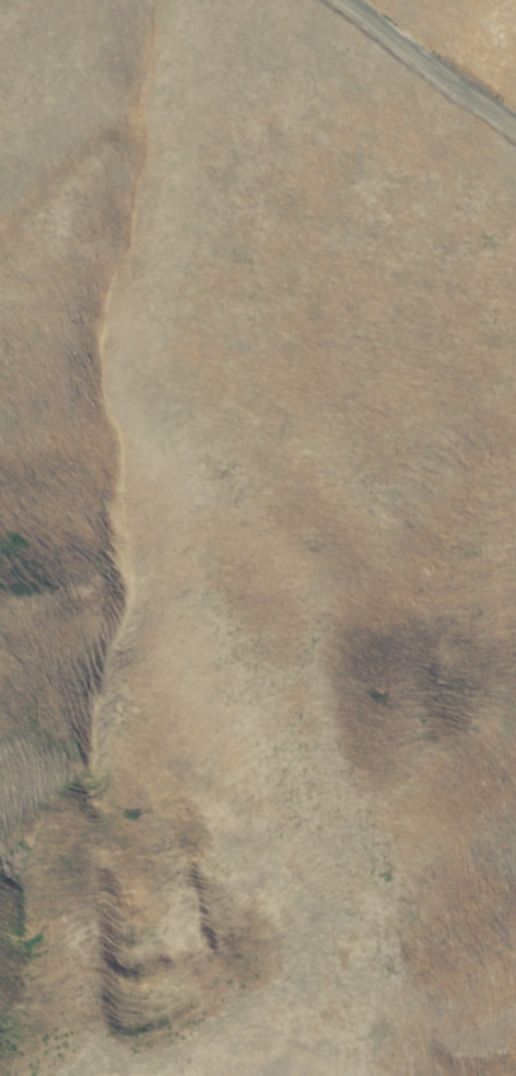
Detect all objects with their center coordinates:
road: (430, 63)

